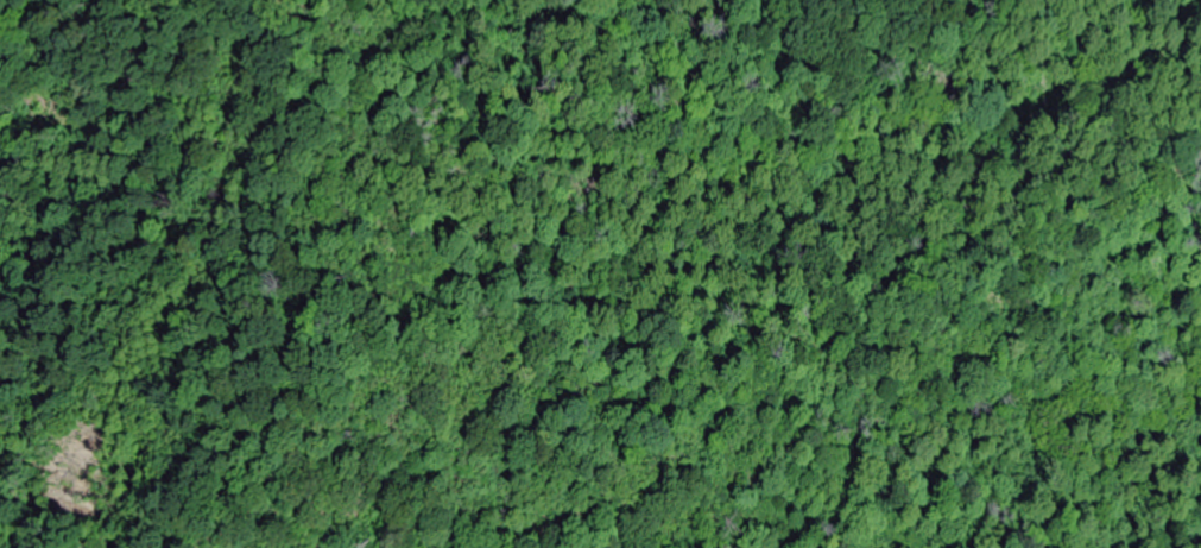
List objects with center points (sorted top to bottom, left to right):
road: (1053, 303)

